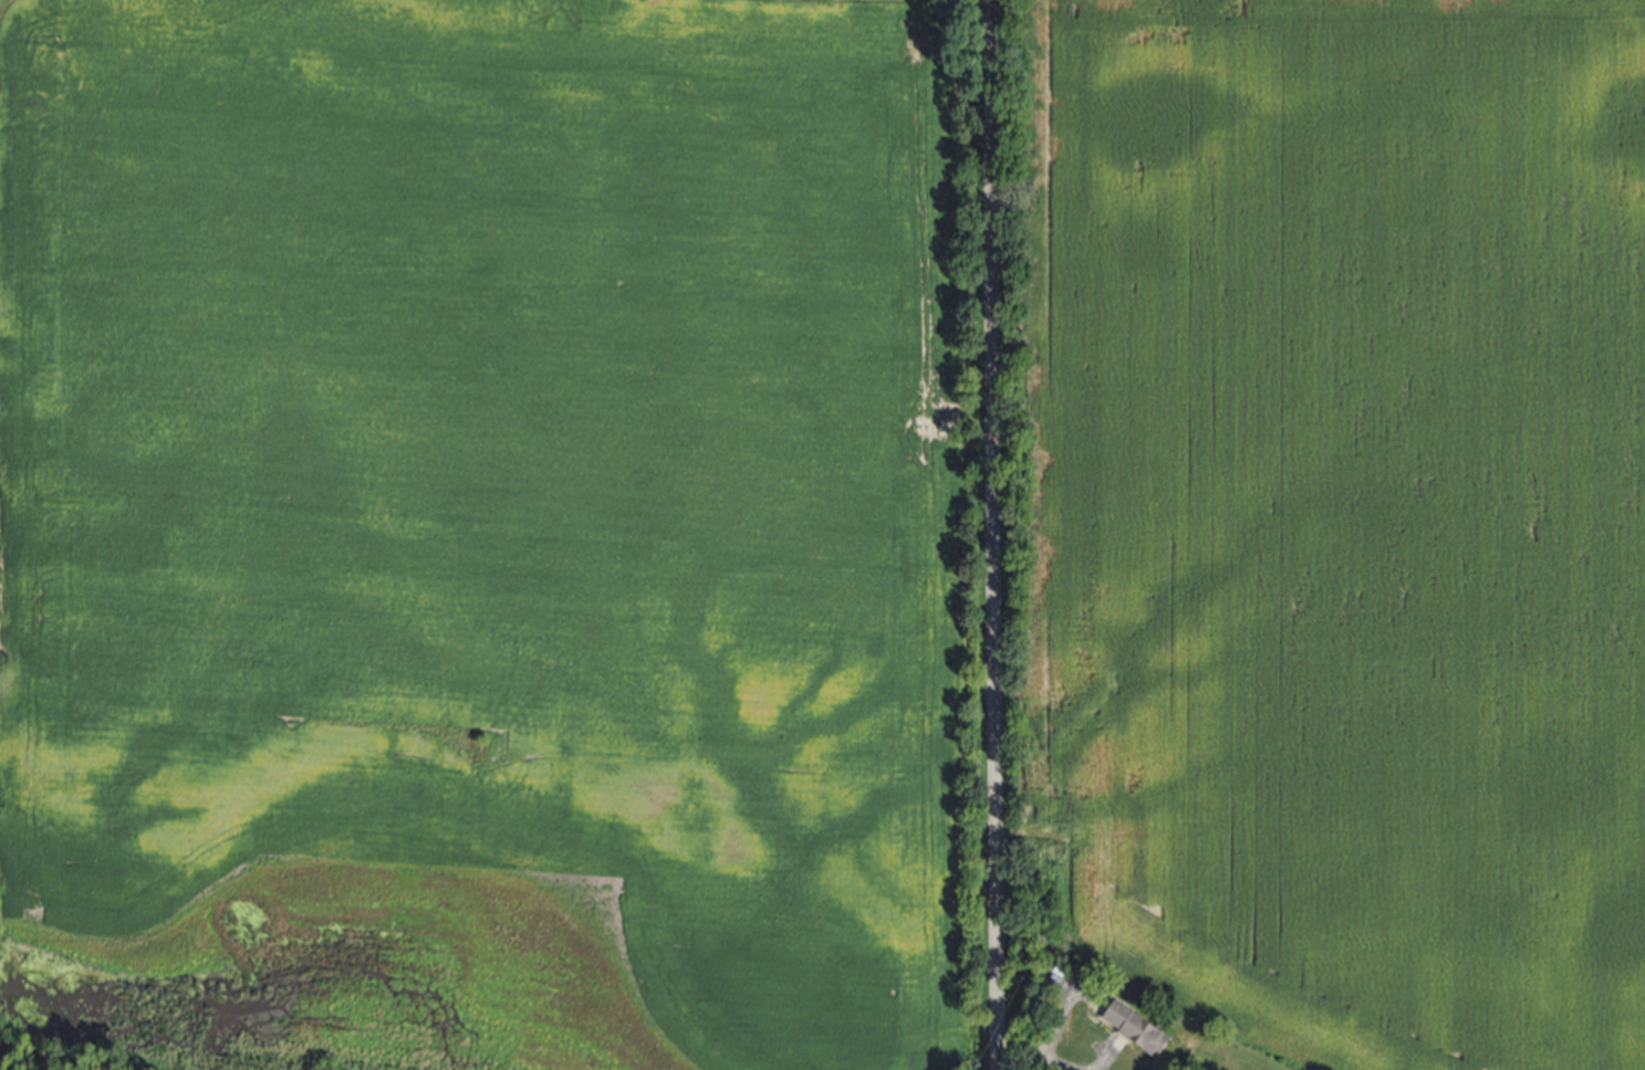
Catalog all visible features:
crop: (493, 533)
road: (993, 535)
building: (1141, 1027)
road: (1050, 1040)
road: (1105, 1060)
road: (1061, 1063)

